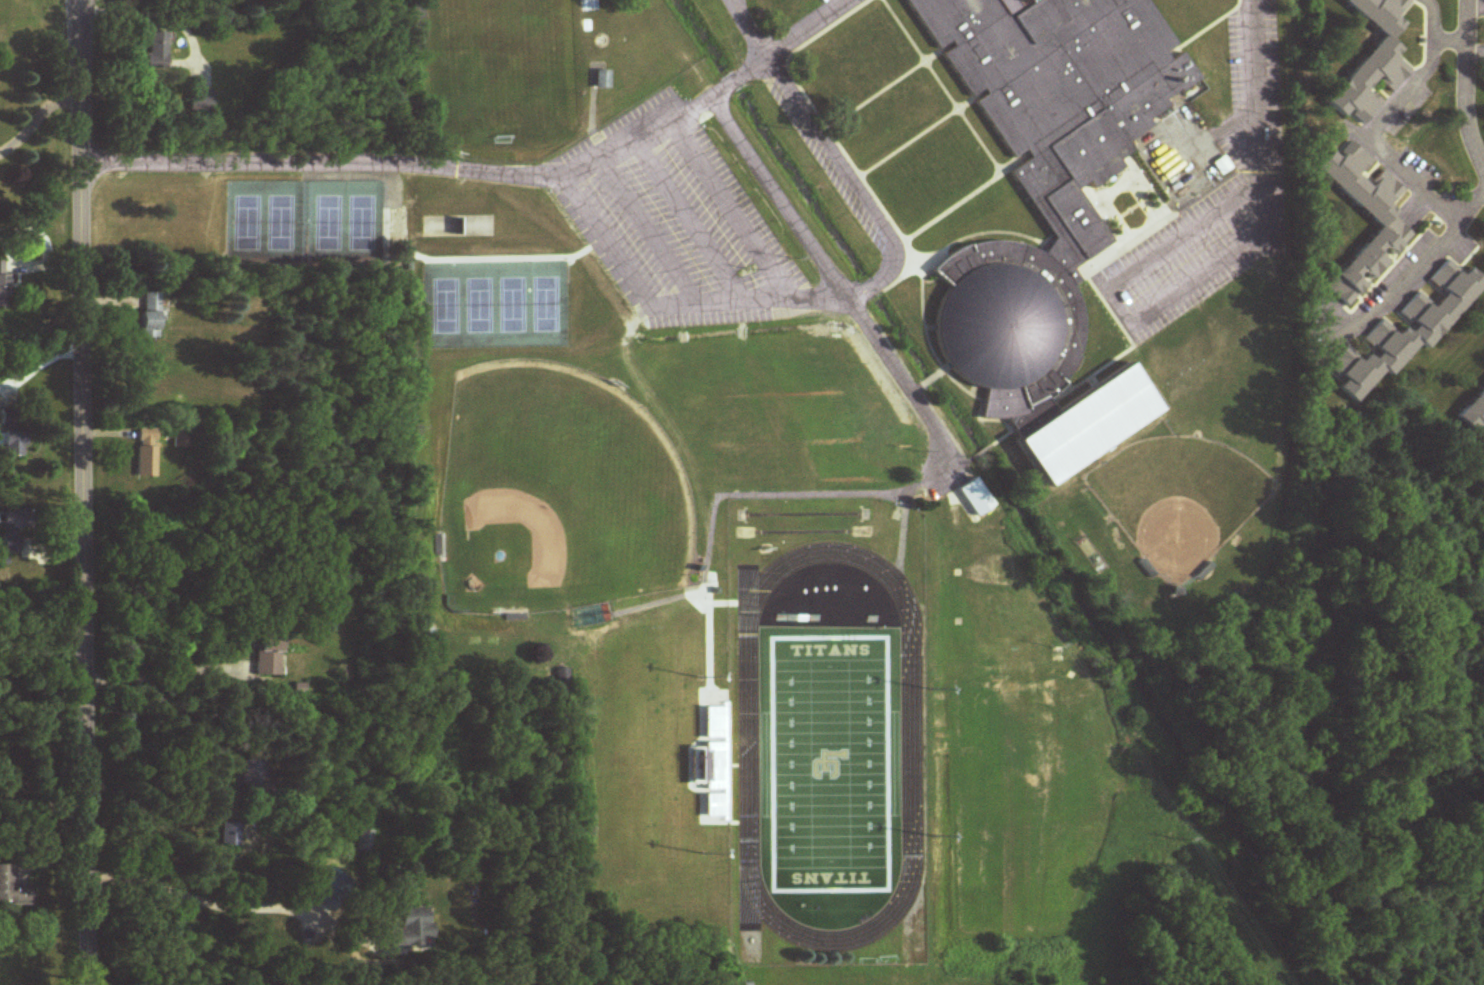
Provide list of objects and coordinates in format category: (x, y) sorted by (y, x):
building: (585, 6)
road: (1431, 19)
road: (799, 24)
building: (154, 50)
building: (1372, 61)
building: (600, 80)
road: (1254, 85)
road: (1465, 86)
road: (35, 118)
road: (1374, 138)
building: (1044, 170)
road: (476, 174)
road: (858, 180)
road: (731, 212)
building: (1382, 217)
park: (360, 222)
parking lot: (674, 222)
park: (247, 223)
park: (280, 223)
park: (327, 223)
road: (689, 223)
building: (475, 227)
road: (646, 232)
road: (834, 280)
road: (1398, 280)
building: (3, 285)
park: (511, 305)
park: (545, 305)
park: (446, 306)
park: (479, 306)
road: (668, 308)
road: (1129, 316)
building: (148, 317)
building: (1407, 331)
building: (1474, 415)
building: (1088, 426)
building: (182, 439)
building: (9, 445)
building: (145, 453)
road: (81, 492)
building: (975, 498)
building: (14, 533)
building: (266, 657)
building: (562, 677)
track: (749, 747)
park: (830, 764)
building: (252, 776)
road: (41, 800)
building: (229, 835)
building: (365, 841)
building: (13, 888)
road: (228, 908)
building: (410, 929)

